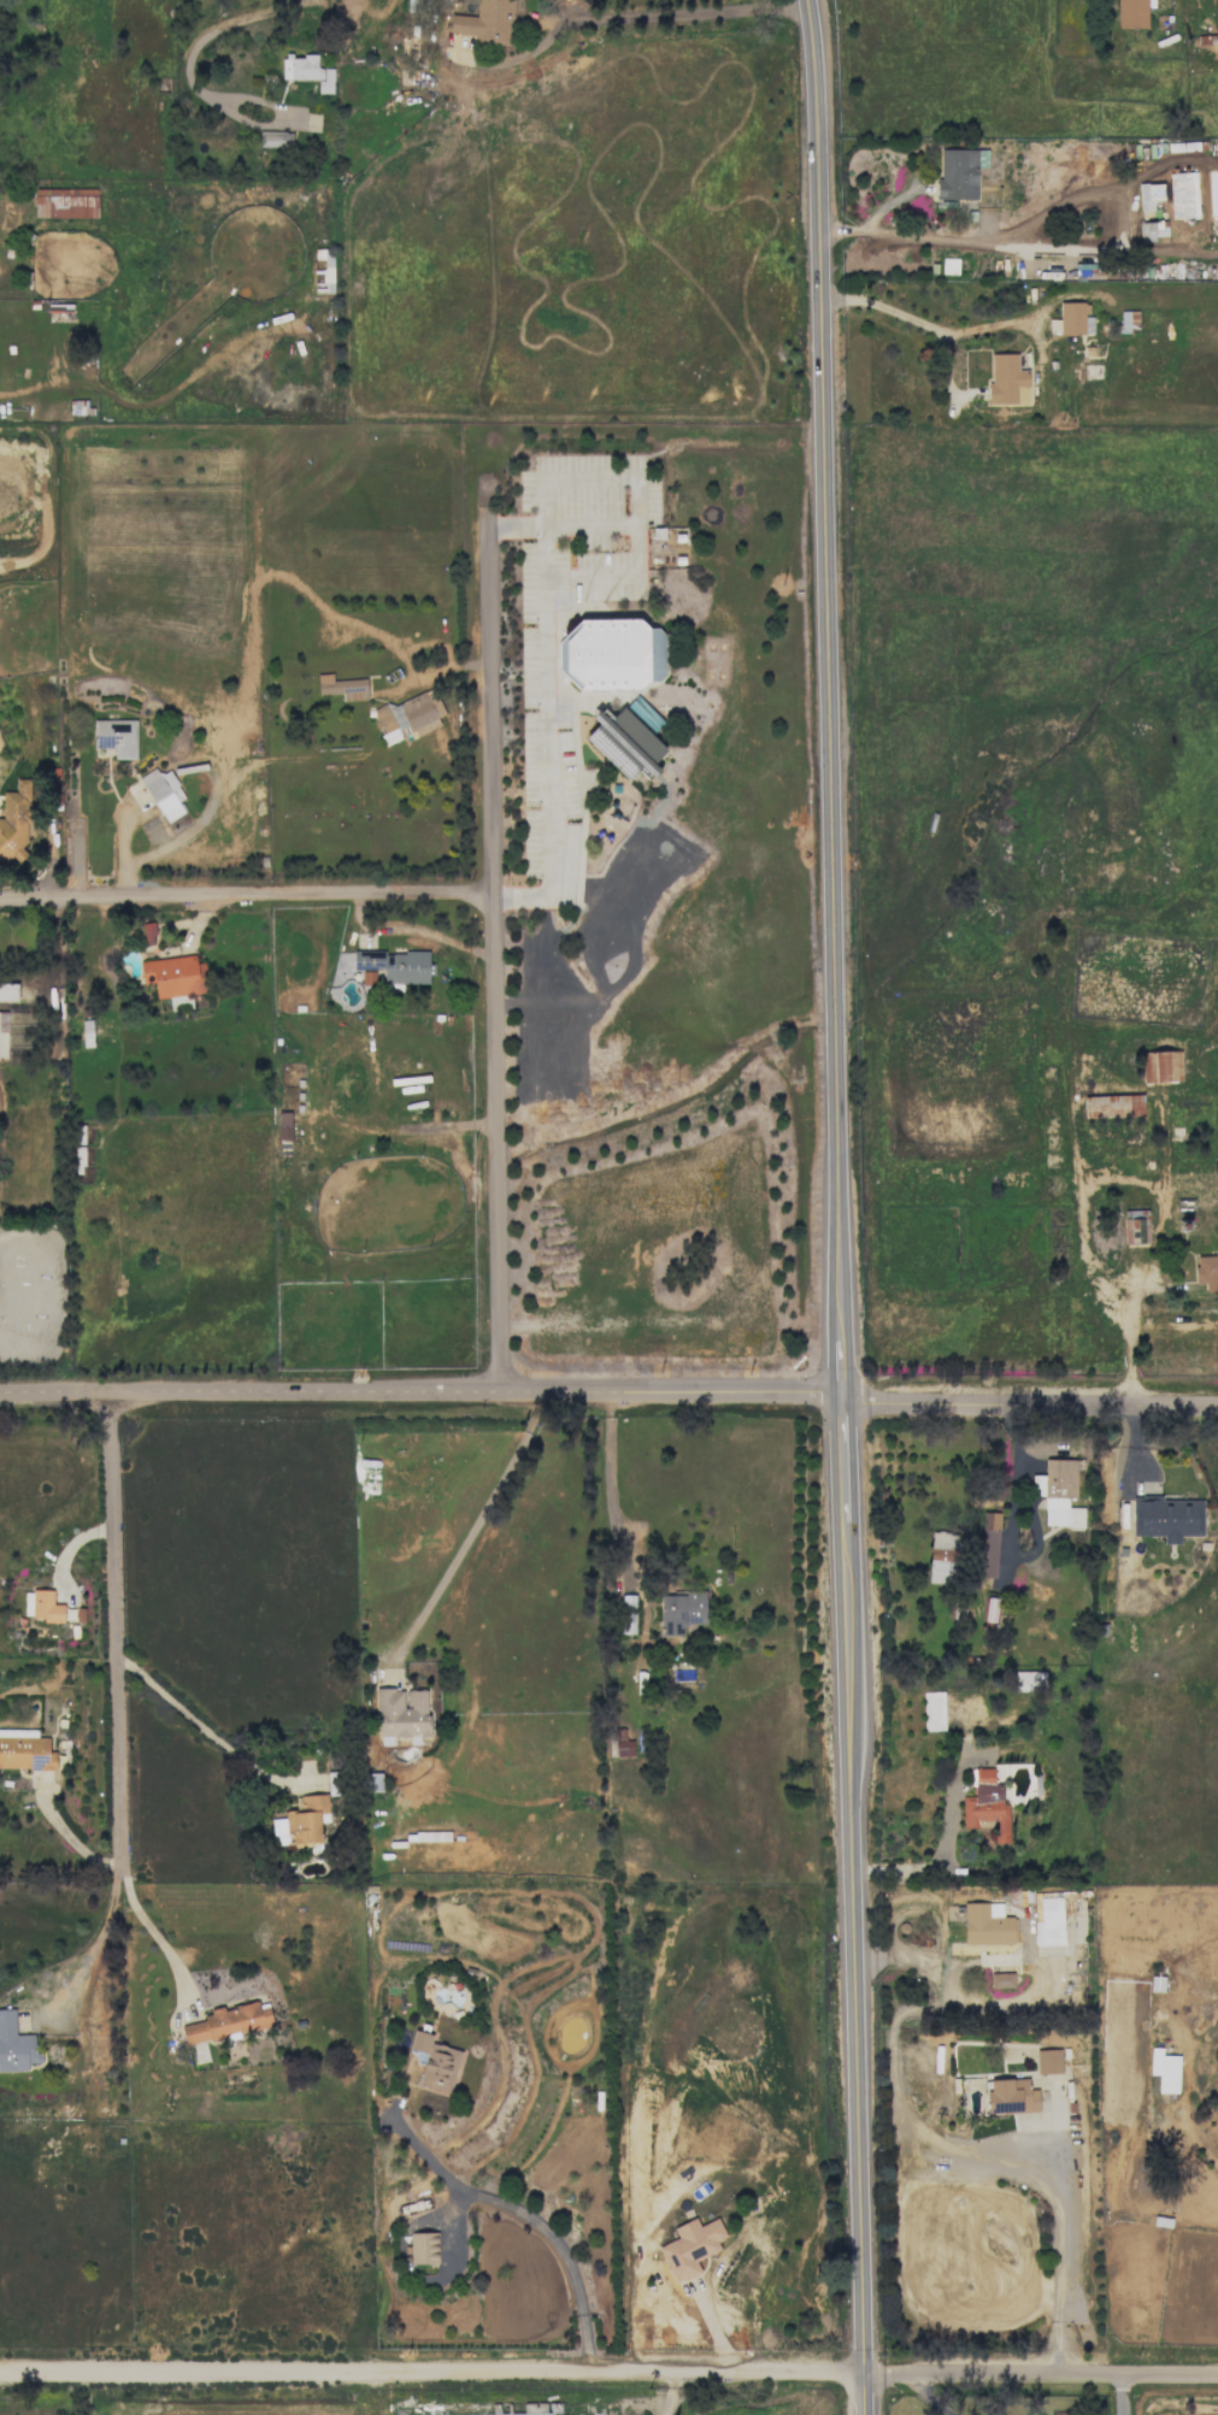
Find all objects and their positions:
building: (1131, 13)
road: (636, 16)
building: (484, 22)
road: (200, 42)
building: (307, 71)
building: (275, 140)
building: (959, 172)
building: (1182, 195)
building: (1149, 196)
building: (65, 202)
building: (1151, 230)
road: (1049, 248)
building: (1075, 318)
building: (1128, 320)
road: (924, 324)
building: (1007, 379)
road: (590, 518)
road: (517, 519)
road: (547, 562)
building: (611, 654)
road: (829, 655)
building: (342, 687)
building: (408, 717)
building: (116, 737)
building: (164, 793)
building: (13, 825)
road: (119, 846)
road: (266, 889)
road: (20, 896)
road: (494, 903)
road: (413, 930)
building: (147, 933)
building: (395, 965)
building: (173, 976)
building: (8, 991)
building: (2, 1033)
building: (1160, 1066)
building: (1112, 1106)
building: (283, 1125)
road: (1092, 1208)
building: (1135, 1226)
building: (1206, 1271)
road: (841, 1351)
road: (608, 1392)
road: (845, 1456)
road: (1013, 1482)
building: (1058, 1492)
building: (1167, 1518)
road: (470, 1524)
road: (616, 1526)
building: (988, 1544)
building: (943, 1557)
building: (41, 1606)
building: (682, 1612)
road: (114, 1628)
building: (1029, 1680)
building: (932, 1710)
building: (399, 1719)
road: (204, 1721)
building: (611, 1743)
building: (622, 1744)
building: (24, 1750)
building: (372, 1781)
building: (987, 1806)
building: (300, 1821)
road: (943, 1848)
road: (882, 1872)
building: (1049, 1922)
building: (985, 1924)
road: (149, 1931)
road: (941, 1938)
road: (94, 1950)
road: (857, 1967)
building: (1001, 1979)
building: (229, 2021)
building: (14, 2045)
building: (434, 2061)
building: (1048, 2061)
building: (1164, 2071)
building: (1011, 2096)
road: (1013, 2154)
road: (523, 2211)
building: (690, 2246)
building: (423, 2248)
road: (902, 2307)
road: (608, 2373)
road: (670, 2393)
road: (1126, 2395)
road: (926, 2396)

